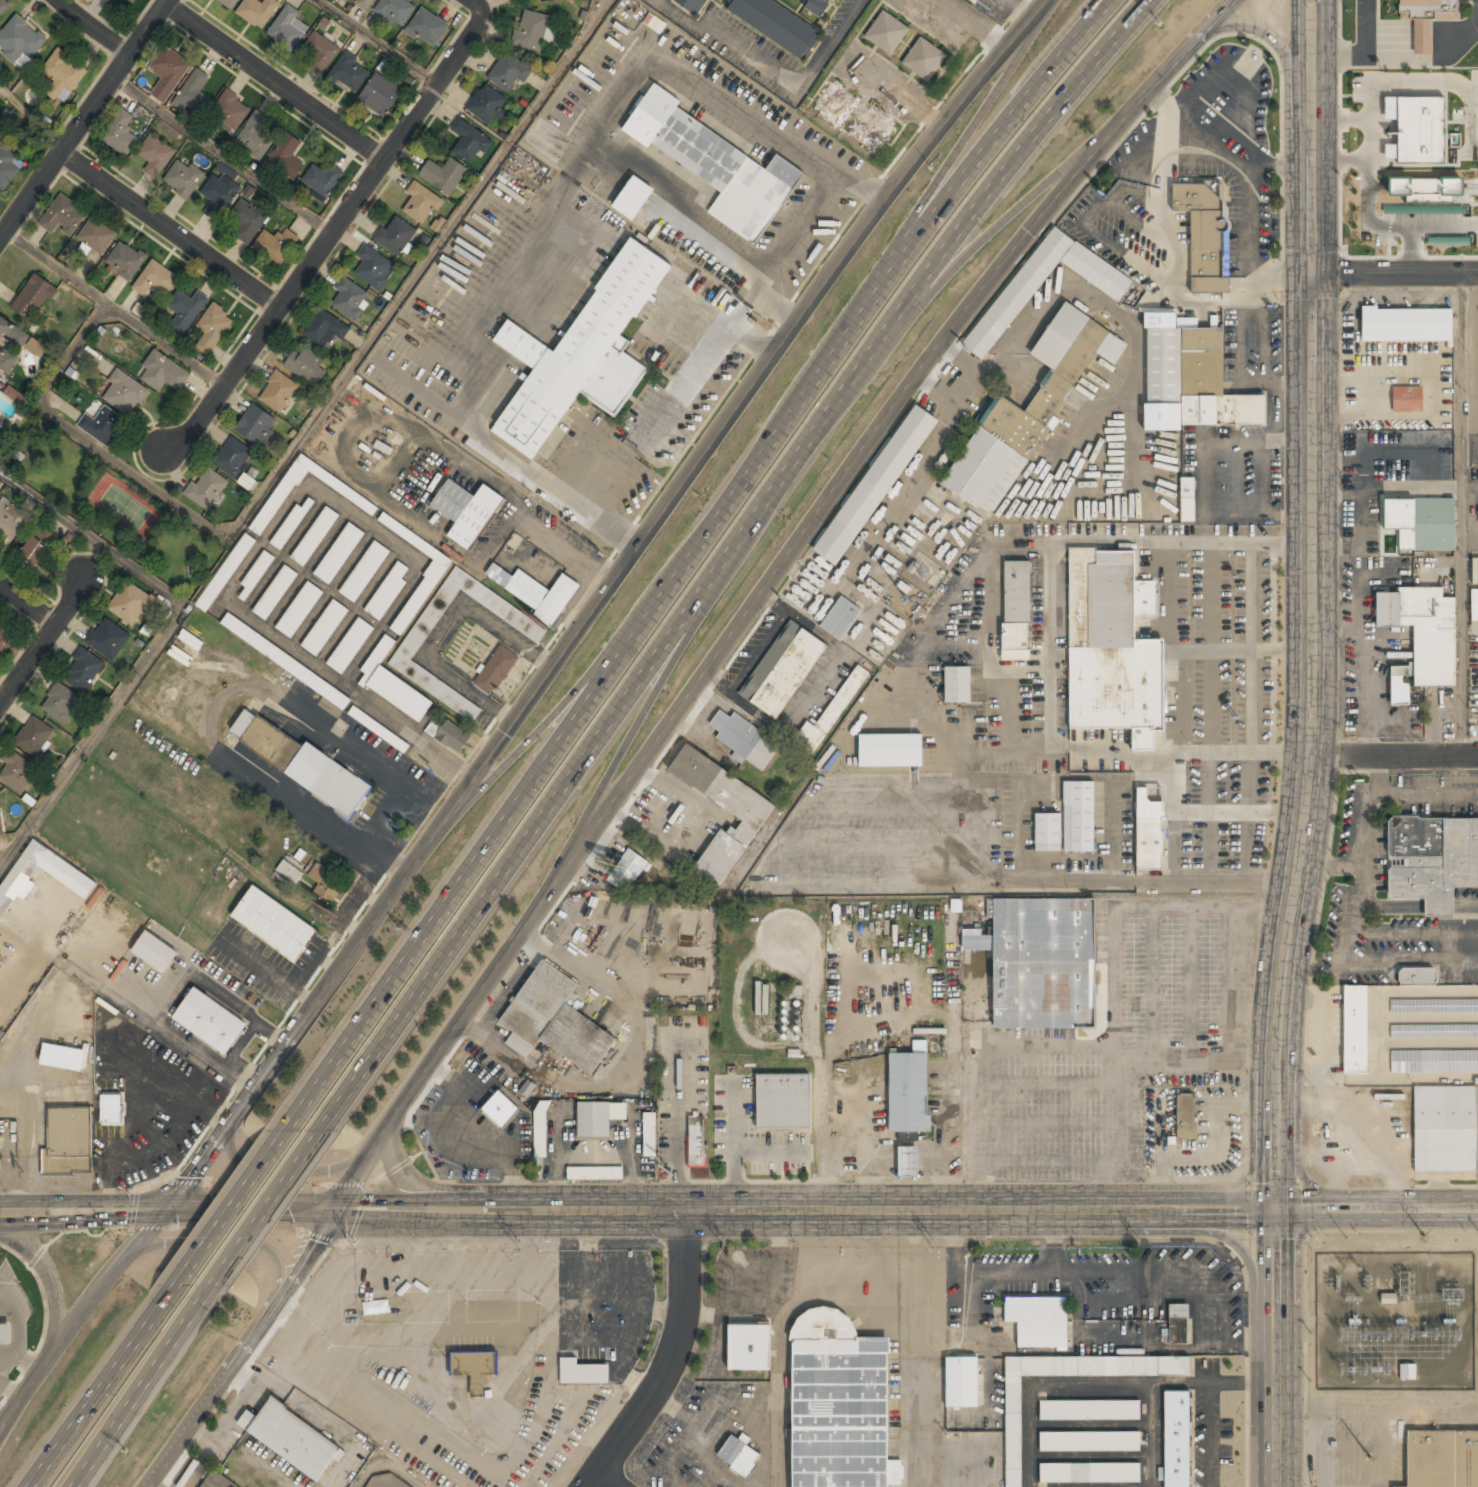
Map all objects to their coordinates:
building: (131, 1)
building: (229, 2)
building: (365, 3)
building: (694, 5)
building: (3, 6)
road: (474, 6)
building: (817, 6)
building: (396, 10)
building: (257, 11)
building: (1425, 18)
building: (775, 24)
road: (973, 24)
building: (288, 27)
building: (427, 27)
road: (92, 28)
building: (531, 30)
building: (886, 32)
road: (1271, 35)
building: (20, 37)
road: (378, 42)
building: (320, 51)
building: (923, 58)
building: (509, 70)
building: (62, 72)
building: (168, 72)
building: (350, 72)
road: (772, 75)
road: (272, 81)
building: (194, 90)
building: (380, 94)
building: (835, 104)
building: (485, 105)
building: (230, 109)
road: (32, 114)
road: (82, 117)
building: (1417, 128)
building: (872, 130)
building: (120, 132)
building: (255, 135)
building: (469, 141)
road: (969, 142)
building: (1390, 151)
building: (155, 154)
road: (222, 154)
building: (286, 157)
building: (716, 164)
building: (9, 165)
building: (443, 174)
building: (183, 177)
building: (321, 179)
building: (1429, 191)
building: (219, 192)
building: (632, 197)
building: (421, 202)
building: (63, 216)
building: (249, 219)
road: (168, 230)
building: (1204, 233)
building: (396, 234)
road: (996, 234)
building: (97, 235)
road: (326, 238)
building: (276, 245)
building: (125, 260)
building: (373, 265)
traffic signals: (1311, 272)
road: (1394, 272)
building: (155, 279)
building: (36, 292)
building: (1017, 293)
building: (350, 298)
road: (114, 306)
building: (185, 310)
building: (1406, 324)
building: (325, 328)
building: (213, 329)
building: (11, 344)
building: (36, 347)
building: (581, 353)
building: (305, 363)
building: (163, 372)
building: (1191, 379)
building: (278, 390)
building: (125, 392)
building: (15, 395)
building: (1407, 399)
building: (1027, 412)
building: (0, 421)
building: (0, 423)
building: (102, 424)
building: (256, 424)
road: (305, 432)
road: (86, 437)
building: (232, 456)
building: (875, 485)
building: (206, 487)
building: (342, 487)
building: (1187, 487)
building: (467, 511)
building: (10, 521)
building: (291, 523)
building: (1417, 524)
building: (314, 535)
road: (93, 538)
building: (38, 546)
building: (339, 553)
road: (691, 560)
building: (231, 564)
road: (726, 567)
building: (1474, 570)
building: (364, 571)
building: (255, 575)
building: (534, 590)
building: (387, 591)
building: (275, 592)
building: (421, 593)
road: (77, 603)
building: (129, 603)
road: (31, 605)
building: (1474, 605)
road: (1312, 606)
building: (299, 609)
building: (1016, 610)
building: (841, 618)
building: (324, 627)
building: (1421, 633)
building: (108, 638)
building: (4, 640)
building: (350, 645)
building: (1112, 647)
building: (407, 652)
building: (285, 661)
building: (84, 669)
building: (496, 669)
building: (783, 669)
road: (30, 673)
building: (957, 684)
building: (394, 686)
road: (7, 692)
building: (60, 702)
road: (524, 711)
building: (830, 714)
road: (558, 717)
road: (646, 717)
road: (672, 726)
building: (451, 735)
building: (35, 736)
building: (744, 739)
building: (890, 750)
road: (1393, 756)
building: (301, 763)
building: (17, 771)
building: (1079, 816)
building: (749, 822)
building: (1149, 828)
building: (1047, 833)
building: (1431, 859)
building: (629, 868)
building: (289, 871)
building: (326, 882)
building: (80, 884)
building: (273, 923)
building: (154, 951)
building: (1040, 961)
building: (1417, 976)
building: (1434, 1006)
building: (555, 1020)
building: (209, 1021)
building: (1355, 1029)
building: (1434, 1031)
building: (62, 1057)
building: (1434, 1061)
building: (908, 1093)
building: (782, 1101)
building: (500, 1109)
building: (1186, 1116)
building: (597, 1118)
building: (132, 1127)
building: (1445, 1129)
building: (541, 1130)
building: (67, 1140)
building: (697, 1142)
building: (907, 1160)
road: (291, 1165)
building: (594, 1172)
road: (1241, 1183)
road: (432, 1192)
road: (1377, 1210)
traffic signals: (1276, 1211)
road: (226, 1213)
traffic signals: (162, 1214)
traffic signals: (336, 1217)
road: (637, 1217)
road: (255, 1233)
power tower: (1353, 1234)
power tower: (1424, 1234)
road: (240, 1235)
road: (1223, 1235)
power tower: (1137, 1239)
power tower: (116, 1241)
power tower: (933, 1241)
power tower: (726, 1242)
power tower: (520, 1243)
power tower: (355, 1245)
road: (45, 1274)
building: (1388, 1298)
building: (1038, 1320)
power substation: (1395, 1321)
building: (1178, 1323)
building: (5, 1331)
power tower: (1425, 1335)
building: (749, 1348)
road: (1276, 1349)
road: (674, 1363)
building: (474, 1369)
building: (1408, 1370)
building: (582, 1372)
building: (961, 1381)
road: (100, 1393)
road: (134, 1402)
building: (839, 1404)
building: (1089, 1411)
road: (4, 1421)
building: (1013, 1431)
building: (292, 1438)
building: (1177, 1439)
building: (1090, 1442)
parking lot: (1349, 1444)
power tower: (1370, 1446)
building: (738, 1455)
building: (1441, 1459)
building: (1089, 1474)
road: (616, 1478)
building: (214, 1482)

